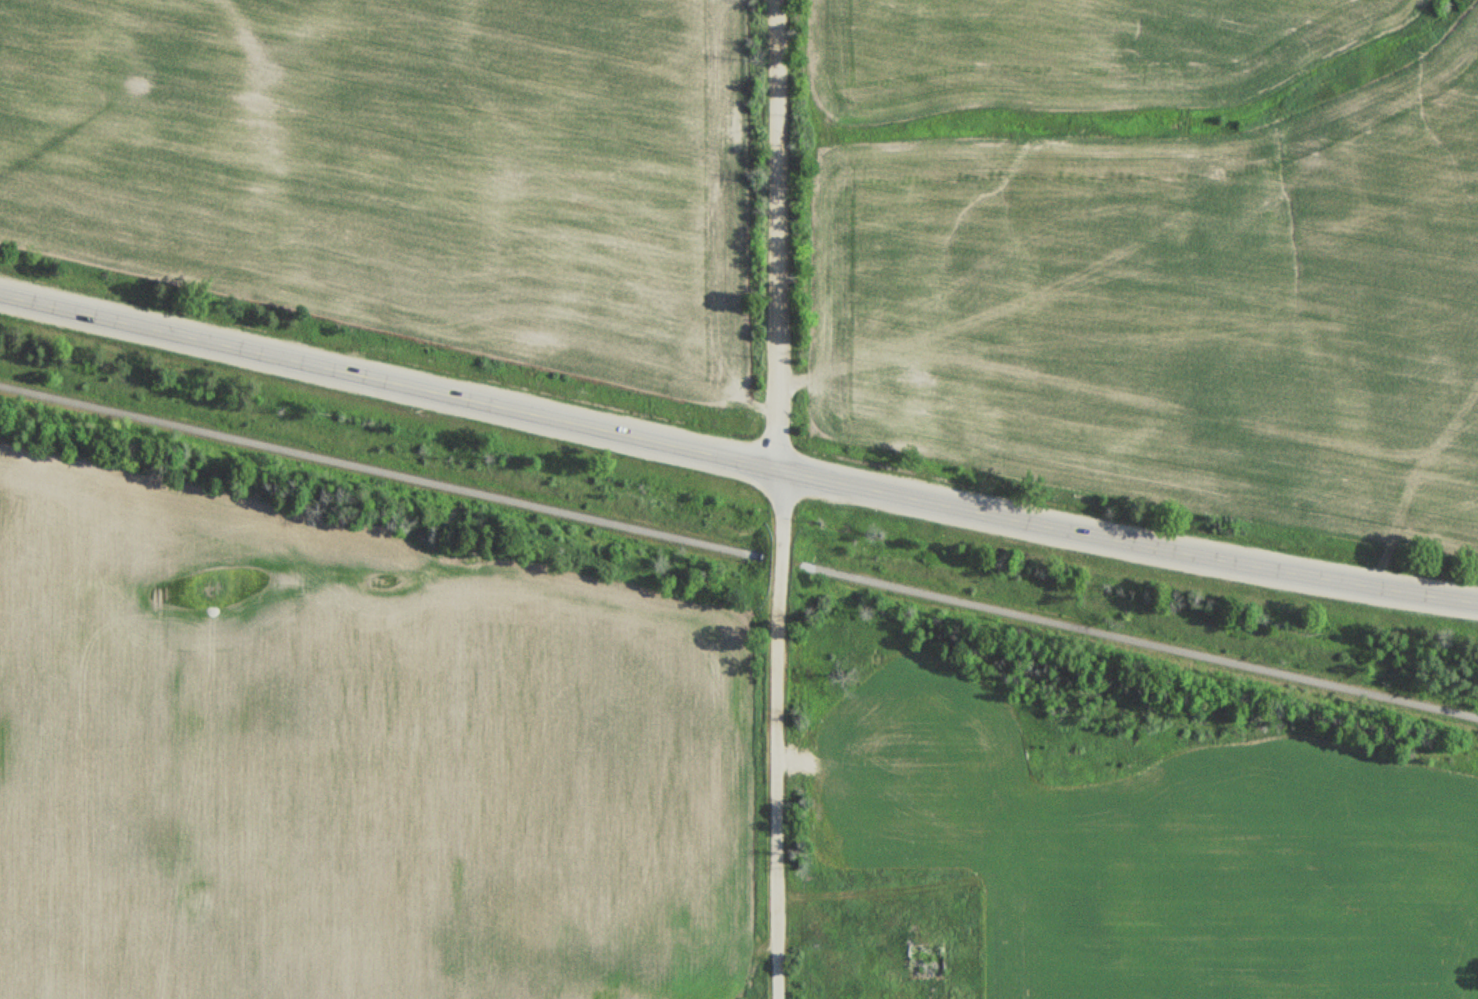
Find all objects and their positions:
road: (779, 208)
road: (781, 443)
road: (736, 460)
road: (380, 472)
road: (780, 490)
road: (1141, 642)
road: (779, 754)

